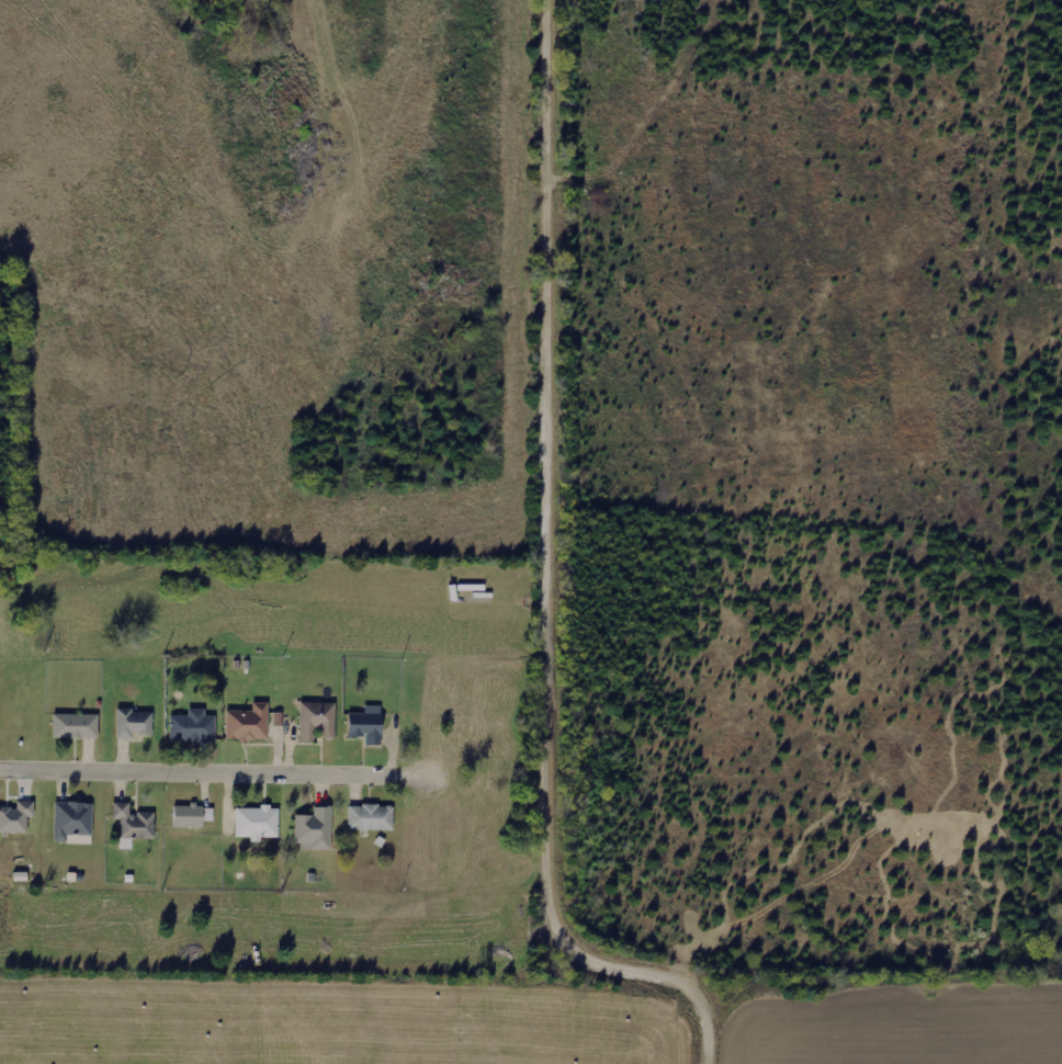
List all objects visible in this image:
road: (549, 571)
building: (317, 720)
building: (134, 723)
building: (248, 723)
building: (366, 725)
building: (76, 726)
building: (193, 726)
road: (195, 769)
building: (192, 815)
building: (16, 817)
building: (371, 817)
building: (72, 819)
building: (257, 823)
building: (134, 824)
building: (316, 828)

